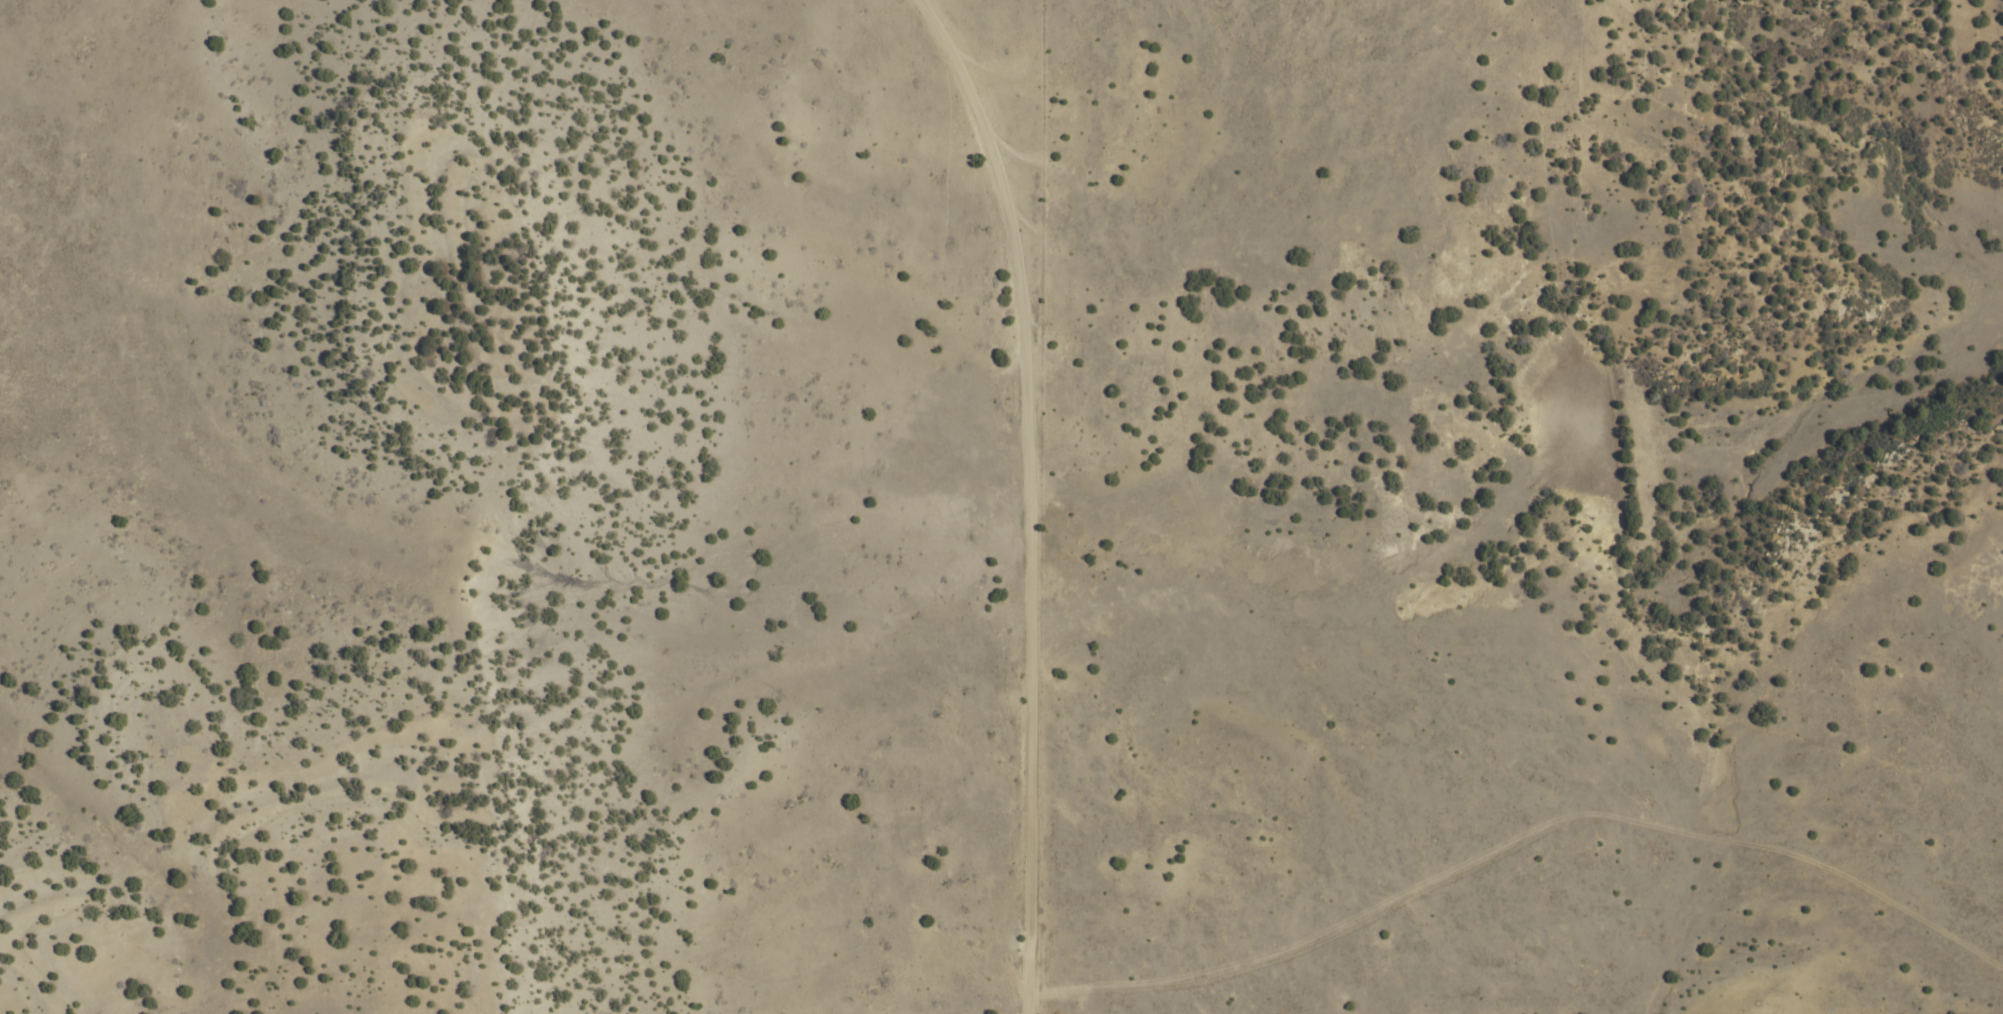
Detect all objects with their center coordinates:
road: (976, 502)

